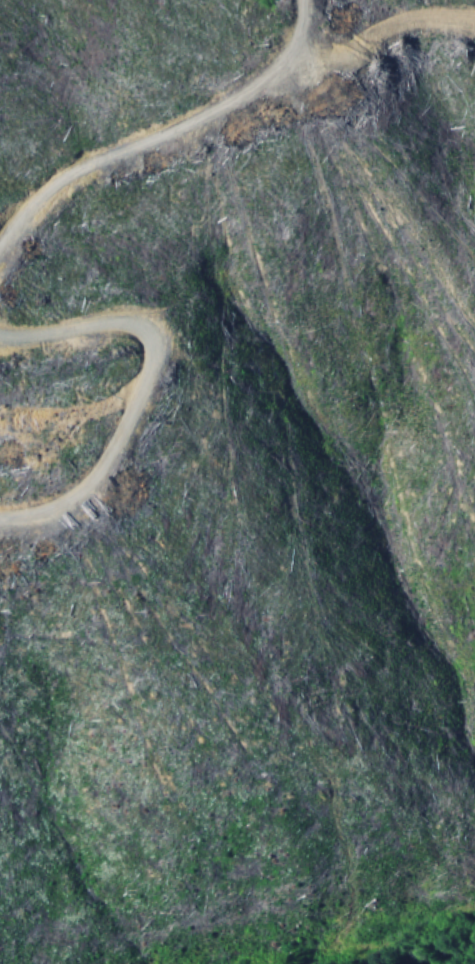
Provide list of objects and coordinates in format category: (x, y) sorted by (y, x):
road: (345, 900)

